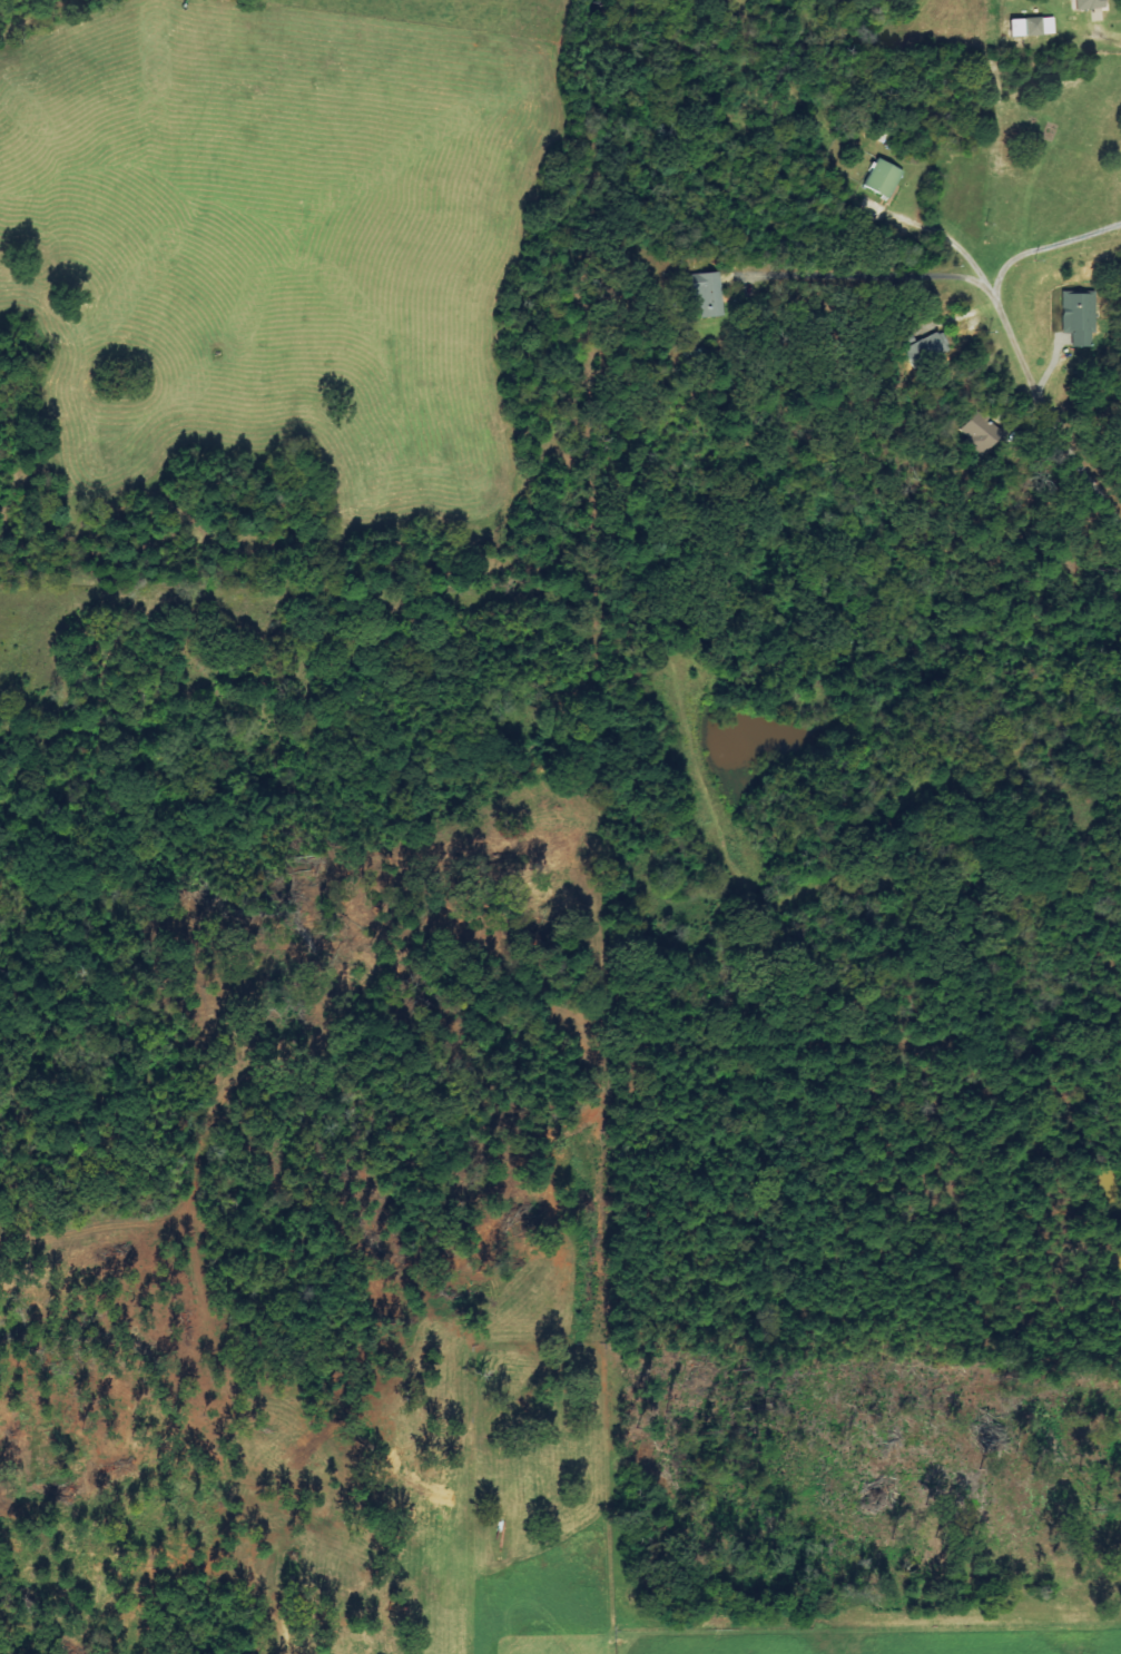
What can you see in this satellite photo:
building: (1090, 4)
building: (1031, 27)
building: (884, 177)
building: (709, 294)
building: (1079, 316)
building: (925, 347)
road: (1033, 384)
building: (982, 432)

